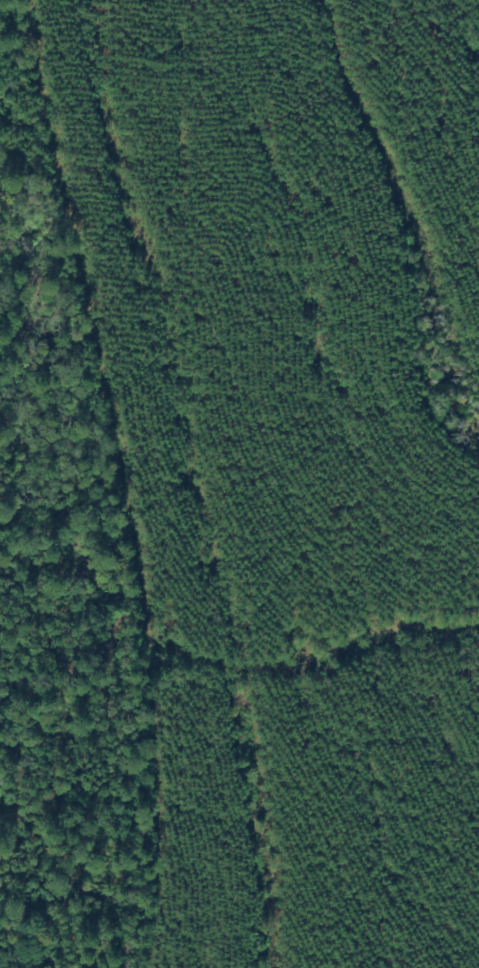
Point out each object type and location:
road: (132, 481)

